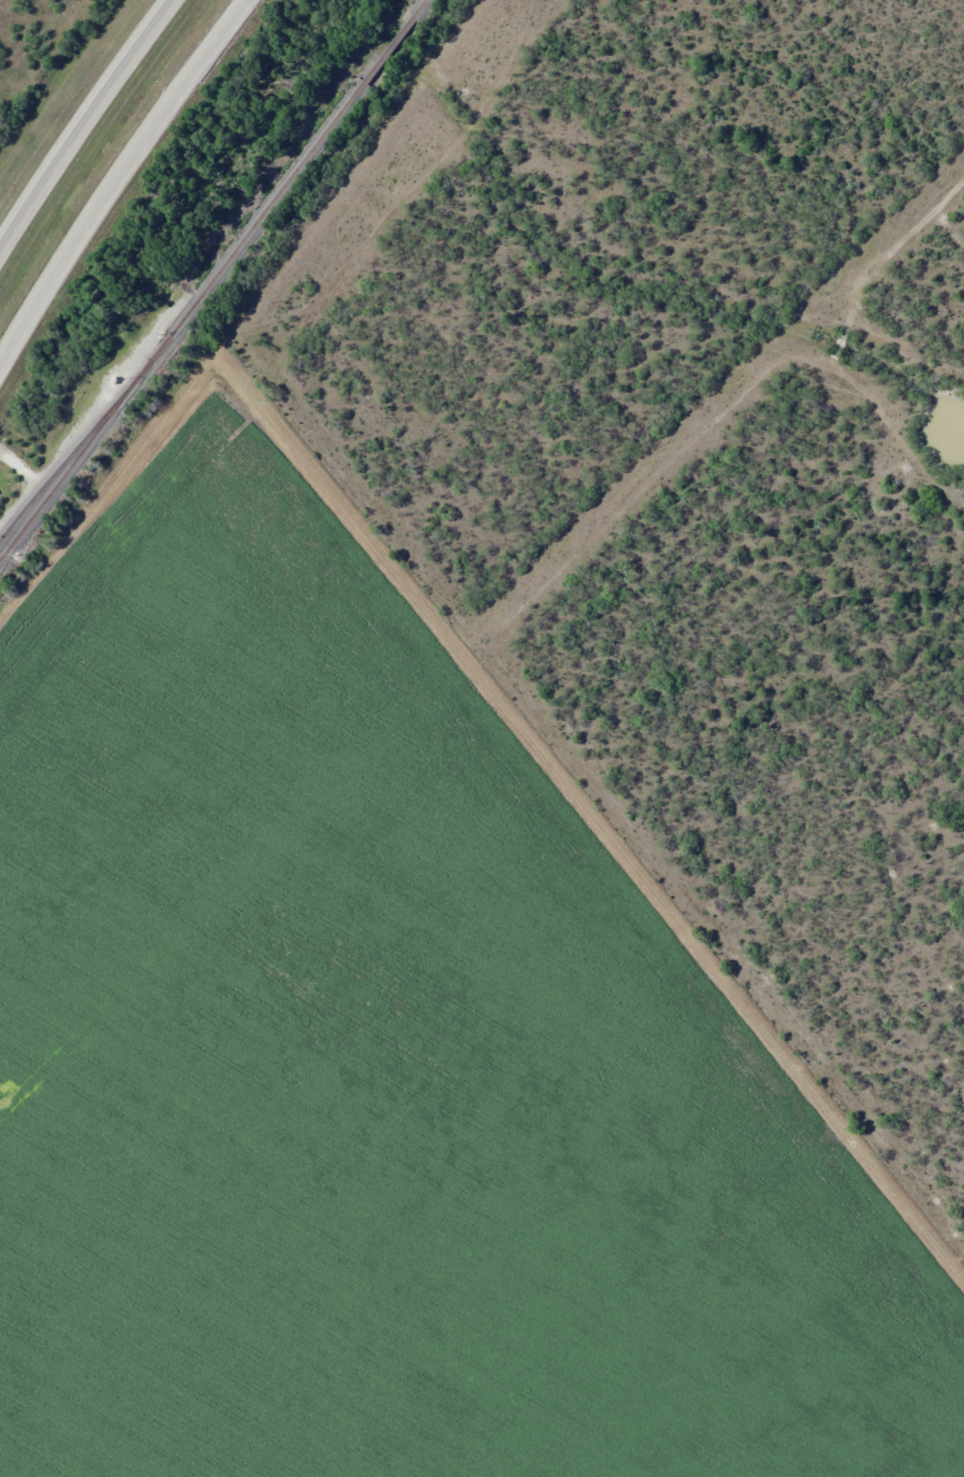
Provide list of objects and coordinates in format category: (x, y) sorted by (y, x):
road: (86, 126)
road: (122, 189)
railway: (212, 280)

